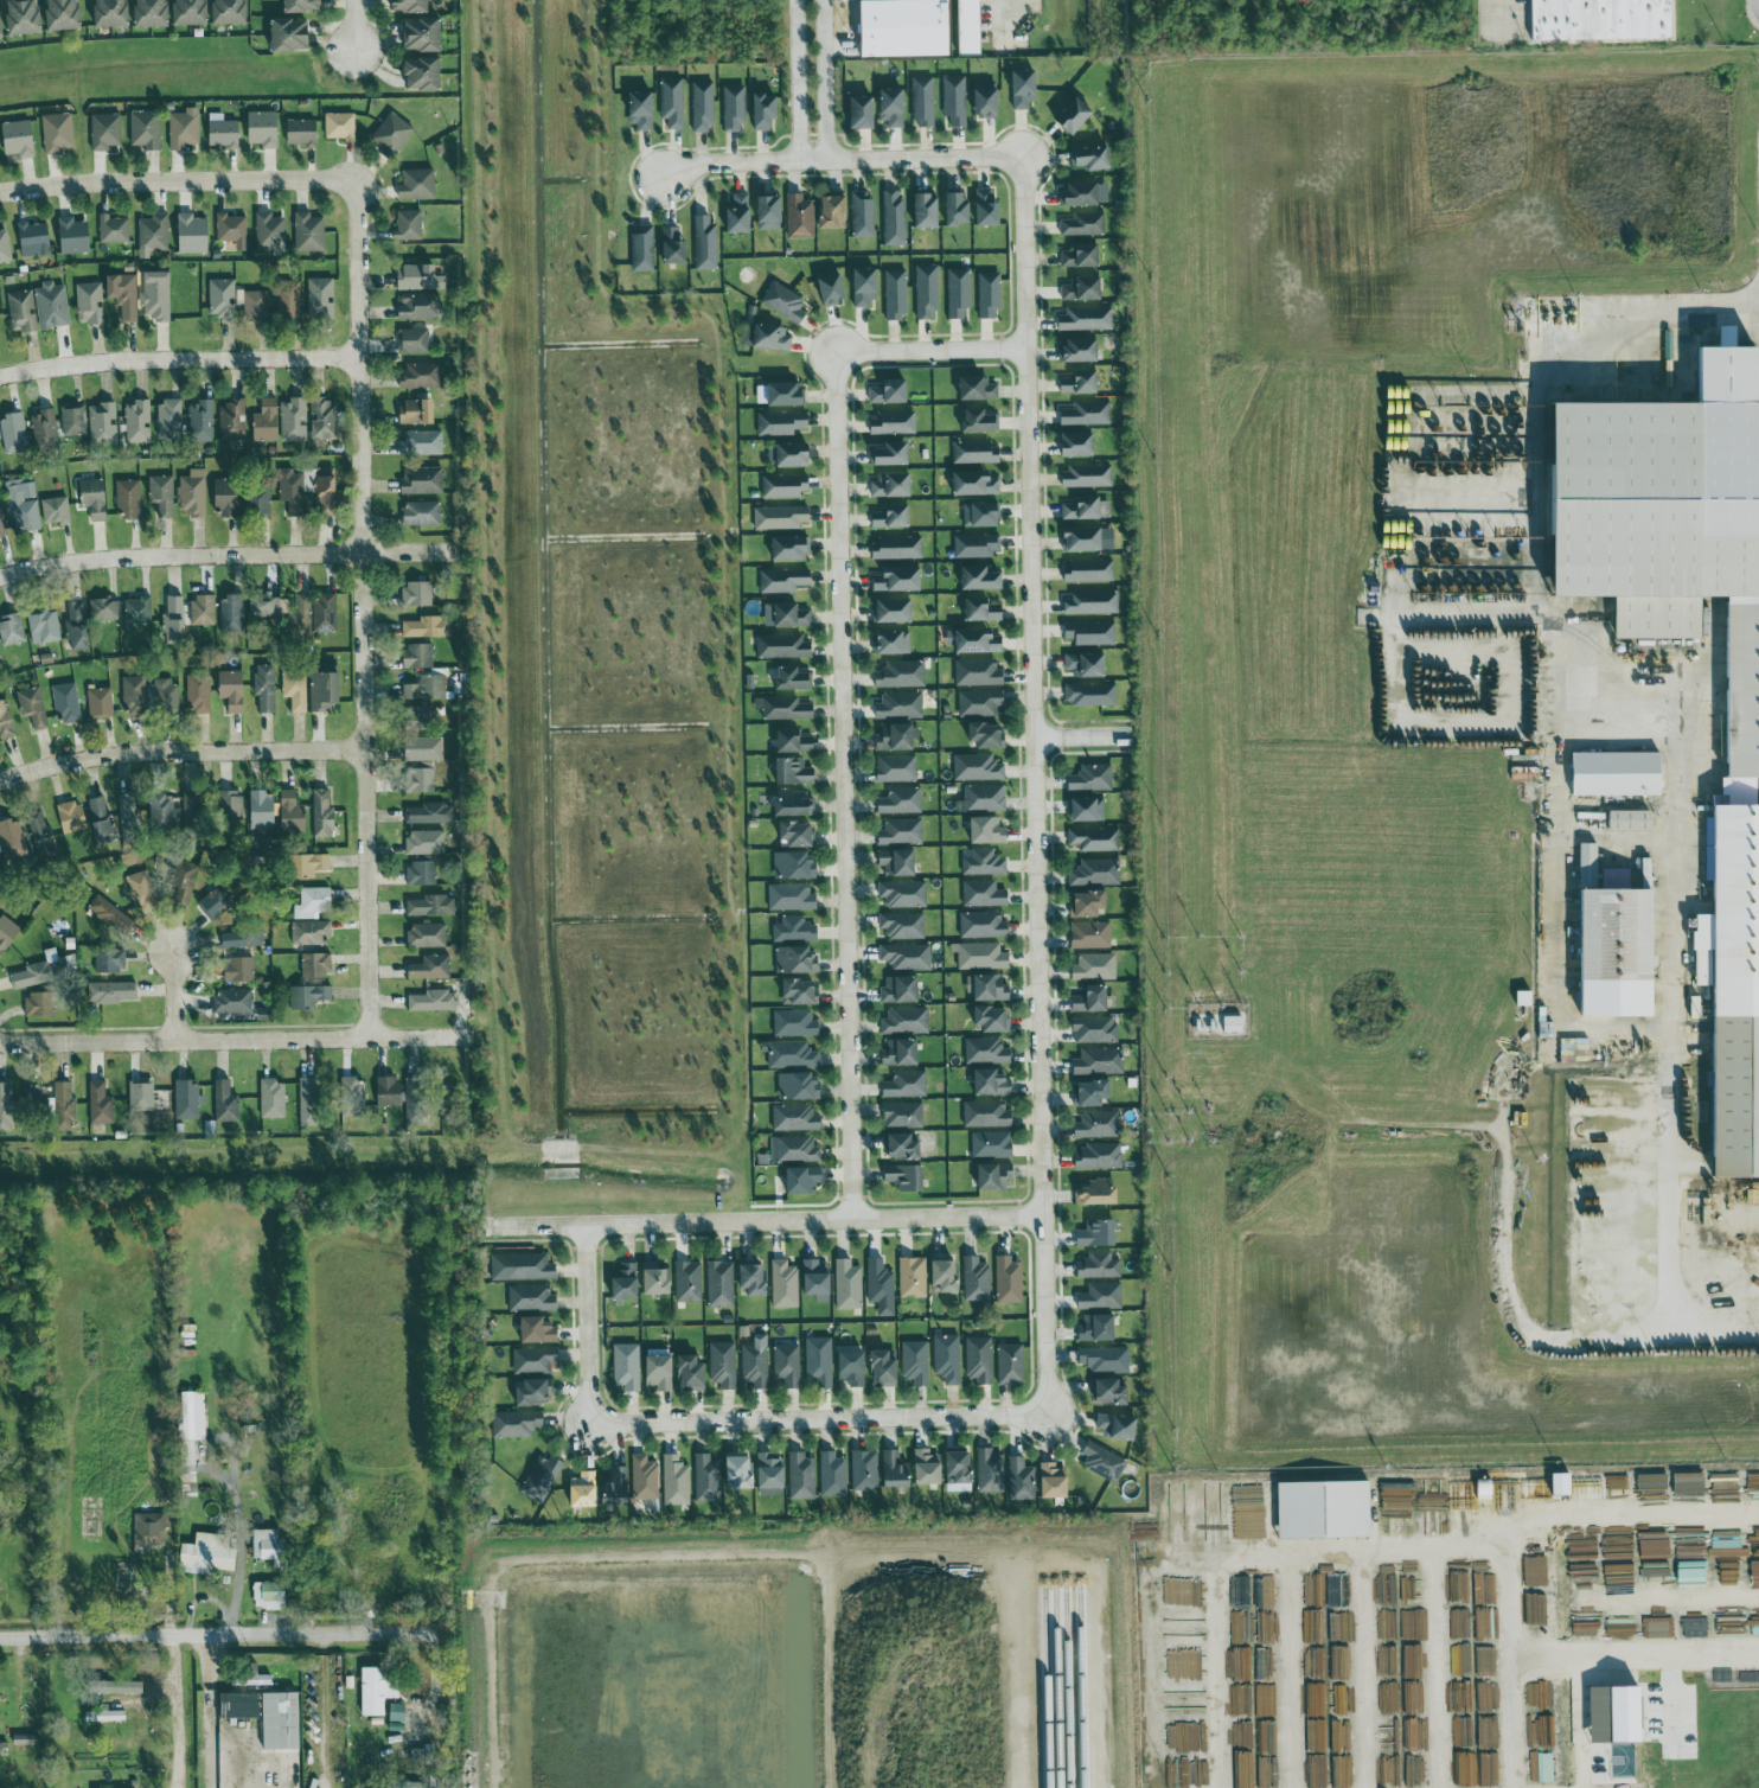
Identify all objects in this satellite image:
building: (298, 2)
building: (410, 6)
building: (107, 11)
building: (186, 11)
building: (223, 11)
building: (59, 12)
building: (147, 12)
road: (1502, 13)
building: (19, 15)
road: (1005, 17)
building: (1606, 20)
building: (1, 25)
road: (357, 25)
building: (906, 27)
building: (972, 27)
building: (283, 31)
building: (424, 34)
building: (424, 74)
road: (797, 79)
road: (826, 79)
building: (1025, 89)
building: (986, 96)
building: (954, 100)
building: (673, 102)
building: (925, 102)
building: (704, 104)
building: (735, 106)
building: (894, 106)
building: (767, 108)
building: (645, 110)
building: (863, 113)
building: (1069, 114)
building: (340, 127)
building: (145, 129)
building: (184, 129)
building: (263, 129)
building: (104, 132)
building: (301, 132)
building: (57, 133)
building: (392, 133)
building: (224, 134)
building: (18, 139)
building: (1093, 157)
road: (842, 158)
road: (179, 175)
building: (416, 184)
building: (1082, 193)
building: (952, 199)
building: (921, 204)
building: (984, 204)
building: (769, 211)
building: (833, 211)
building: (738, 212)
building: (864, 212)
building: (800, 213)
building: (894, 216)
building: (1083, 224)
building: (408, 225)
building: (231, 228)
building: (113, 229)
building: (308, 232)
building: (192, 234)
building: (269, 234)
building: (153, 235)
building: (33, 236)
building: (73, 236)
building: (708, 241)
building: (672, 244)
building: (645, 245)
building: (5, 247)
building: (1085, 255)
building: (420, 277)
building: (865, 286)
building: (832, 287)
building: (1083, 287)
building: (927, 289)
building: (898, 293)
building: (959, 293)
building: (992, 293)
building: (123, 295)
building: (156, 295)
building: (222, 298)
building: (321, 298)
building: (783, 301)
building: (288, 302)
building: (90, 304)
building: (51, 306)
building: (256, 306)
building: (417, 306)
building: (23, 311)
building: (1086, 317)
road: (1662, 333)
building: (768, 337)
building: (414, 341)
building: (1080, 350)
road: (178, 358)
building: (421, 375)
building: (1082, 382)
building: (979, 387)
building: (890, 390)
building: (785, 392)
building: (417, 413)
building: (1087, 413)
building: (324, 416)
building: (169, 420)
building: (293, 420)
building: (979, 420)
building: (73, 421)
building: (200, 421)
building: (231, 421)
building: (267, 421)
building: (137, 422)
building: (782, 422)
building: (894, 423)
building: (102, 424)
building: (44, 432)
building: (13, 433)
building: (421, 443)
building: (1076, 443)
building: (978, 451)
building: (890, 452)
building: (792, 453)
building: (1086, 474)
building: (422, 480)
building: (976, 481)
building: (894, 484)
building: (786, 485)
building: (1652, 490)
building: (292, 492)
building: (192, 493)
building: (161, 494)
building: (327, 494)
building: (228, 497)
building: (94, 498)
building: (128, 498)
building: (258, 500)
building: (23, 505)
building: (1087, 506)
building: (56, 511)
building: (421, 513)
building: (981, 513)
building: (893, 516)
building: (781, 517)
building: (2, 524)
building: (1082, 539)
building: (979, 544)
building: (789, 547)
building: (896, 548)
road: (407, 553)
road: (179, 554)
building: (1088, 569)
building: (981, 576)
building: (898, 577)
building: (786, 580)
building: (417, 595)
building: (1092, 602)
building: (104, 609)
building: (137, 611)
building: (203, 611)
building: (895, 611)
building: (983, 611)
building: (301, 612)
road: (362, 613)
building: (231, 615)
building: (786, 615)
building: (173, 619)
building: (44, 626)
building: (77, 626)
building: (428, 627)
building: (12, 630)
building: (1090, 633)
building: (974, 641)
building: (893, 643)
building: (782, 647)
building: (0, 656)
building: (418, 656)
building: (1086, 664)
building: (978, 672)
building: (902, 675)
building: (793, 679)
building: (266, 688)
building: (325, 688)
building: (295, 689)
building: (427, 689)
road: (844, 689)
building: (231, 690)
building: (198, 694)
building: (133, 695)
building: (162, 695)
building: (1090, 695)
building: (66, 702)
building: (100, 702)
building: (979, 703)
building: (900, 705)
building: (32, 707)
building: (783, 709)
building: (417, 717)
building: (5, 722)
building: (987, 735)
building: (897, 737)
road: (1083, 740)
building: (795, 742)
road: (180, 749)
building: (424, 749)
building: (977, 767)
building: (896, 768)
building: (793, 772)
building: (1620, 774)
building: (1092, 778)
building: (420, 780)
road: (1036, 785)
building: (983, 799)
building: (901, 802)
building: (231, 804)
building: (795, 804)
building: (193, 809)
building: (1088, 810)
building: (263, 811)
building: (164, 812)
building: (292, 813)
building: (322, 813)
building: (430, 813)
building: (72, 817)
building: (129, 817)
building: (101, 820)
building: (1633, 820)
building: (987, 831)
building: (901, 832)
building: (798, 834)
building: (12, 839)
building: (1094, 839)
building: (423, 856)
road: (1557, 856)
building: (898, 863)
building: (983, 863)
building: (311, 866)
building: (794, 866)
building: (1096, 873)
building: (183, 882)
building: (143, 892)
building: (903, 894)
building: (983, 894)
building: (791, 898)
building: (313, 902)
building: (1088, 903)
building: (212, 905)
building: (431, 906)
building: (110, 915)
building: (983, 925)
building: (902, 926)
building: (794, 930)
building: (311, 933)
building: (1090, 934)
building: (7, 935)
building: (427, 935)
building: (244, 937)
building: (1619, 944)
building: (907, 957)
building: (981, 957)
building: (110, 960)
building: (797, 960)
building: (315, 965)
building: (430, 968)
building: (1094, 968)
building: (239, 970)
building: (37, 973)
building: (987, 988)
building: (901, 990)
building: (111, 992)
building: (800, 992)
road: (177, 996)
building: (308, 997)
building: (1525, 998)
building: (1092, 1000)
building: (433, 1001)
building: (232, 1002)
building: (40, 1004)
building: (993, 1020)
building: (906, 1021)
building: (794, 1024)
building: (1234, 1024)
building: (1094, 1029)
road: (231, 1039)
building: (986, 1052)
building: (901, 1053)
building: (791, 1055)
road: (1669, 1055)
building: (1100, 1062)
building: (992, 1083)
building: (904, 1085)
building: (799, 1087)
building: (389, 1092)
building: (1093, 1093)
building: (141, 1096)
building: (352, 1097)
building: (34, 1099)
building: (186, 1099)
building: (273, 1099)
building: (414, 1099)
building: (308, 1101)
building: (225, 1103)
building: (101, 1104)
building: (6, 1106)
building: (64, 1107)
building: (903, 1115)
building: (986, 1115)
building: (794, 1118)
building: (1098, 1124)
building: (992, 1145)
building: (903, 1148)
building: (794, 1150)
building: (1099, 1156)
building: (994, 1176)
building: (907, 1177)
building: (802, 1180)
building: (1098, 1193)
road: (766, 1221)
building: (1099, 1233)
building: (1099, 1265)
building: (522, 1266)
building: (946, 1275)
building: (913, 1277)
building: (658, 1278)
building: (977, 1278)
building: (754, 1279)
building: (817, 1279)
building: (1009, 1279)
building: (689, 1281)
building: (626, 1282)
building: (721, 1283)
building: (785, 1284)
building: (847, 1284)
building: (881, 1285)
building: (1100, 1296)
building: (531, 1297)
road: (1510, 1303)
building: (1098, 1327)
building: (538, 1329)
building: (947, 1358)
building: (979, 1359)
building: (1106, 1359)
building: (533, 1360)
building: (818, 1361)
building: (915, 1361)
building: (755, 1362)
building: (723, 1364)
building: (1010, 1364)
building: (787, 1365)
building: (627, 1366)
building: (852, 1367)
building: (884, 1367)
building: (660, 1372)
building: (691, 1372)
building: (1109, 1391)
building: (533, 1392)
building: (192, 1416)
road: (719, 1422)
building: (517, 1423)
building: (1118, 1425)
building: (1104, 1462)
building: (960, 1465)
building: (928, 1467)
building: (864, 1469)
building: (895, 1470)
building: (989, 1470)
building: (740, 1471)
building: (832, 1474)
building: (770, 1475)
building: (801, 1475)
building: (542, 1477)
building: (644, 1477)
building: (706, 1477)
building: (676, 1480)
building: (1021, 1480)
building: (1053, 1480)
building: (1563, 1483)
building: (615, 1487)
building: (584, 1489)
building: (1326, 1508)
road: (1627, 1520)
building: (148, 1532)
road: (239, 1543)
building: (266, 1544)
building: (209, 1554)
road: (1274, 1563)
building: (267, 1591)
road: (216, 1637)
road: (1636, 1659)
road: (1367, 1673)
road: (1437, 1673)
road: (1292, 1675)
road: (1220, 1677)
road: (331, 1679)
building: (377, 1691)
road: (1672, 1709)
road: (174, 1713)
road: (209, 1713)
building: (1619, 1713)
building: (268, 1714)
building: (105, 1716)
road: (1515, 1725)
building: (26, 1739)

